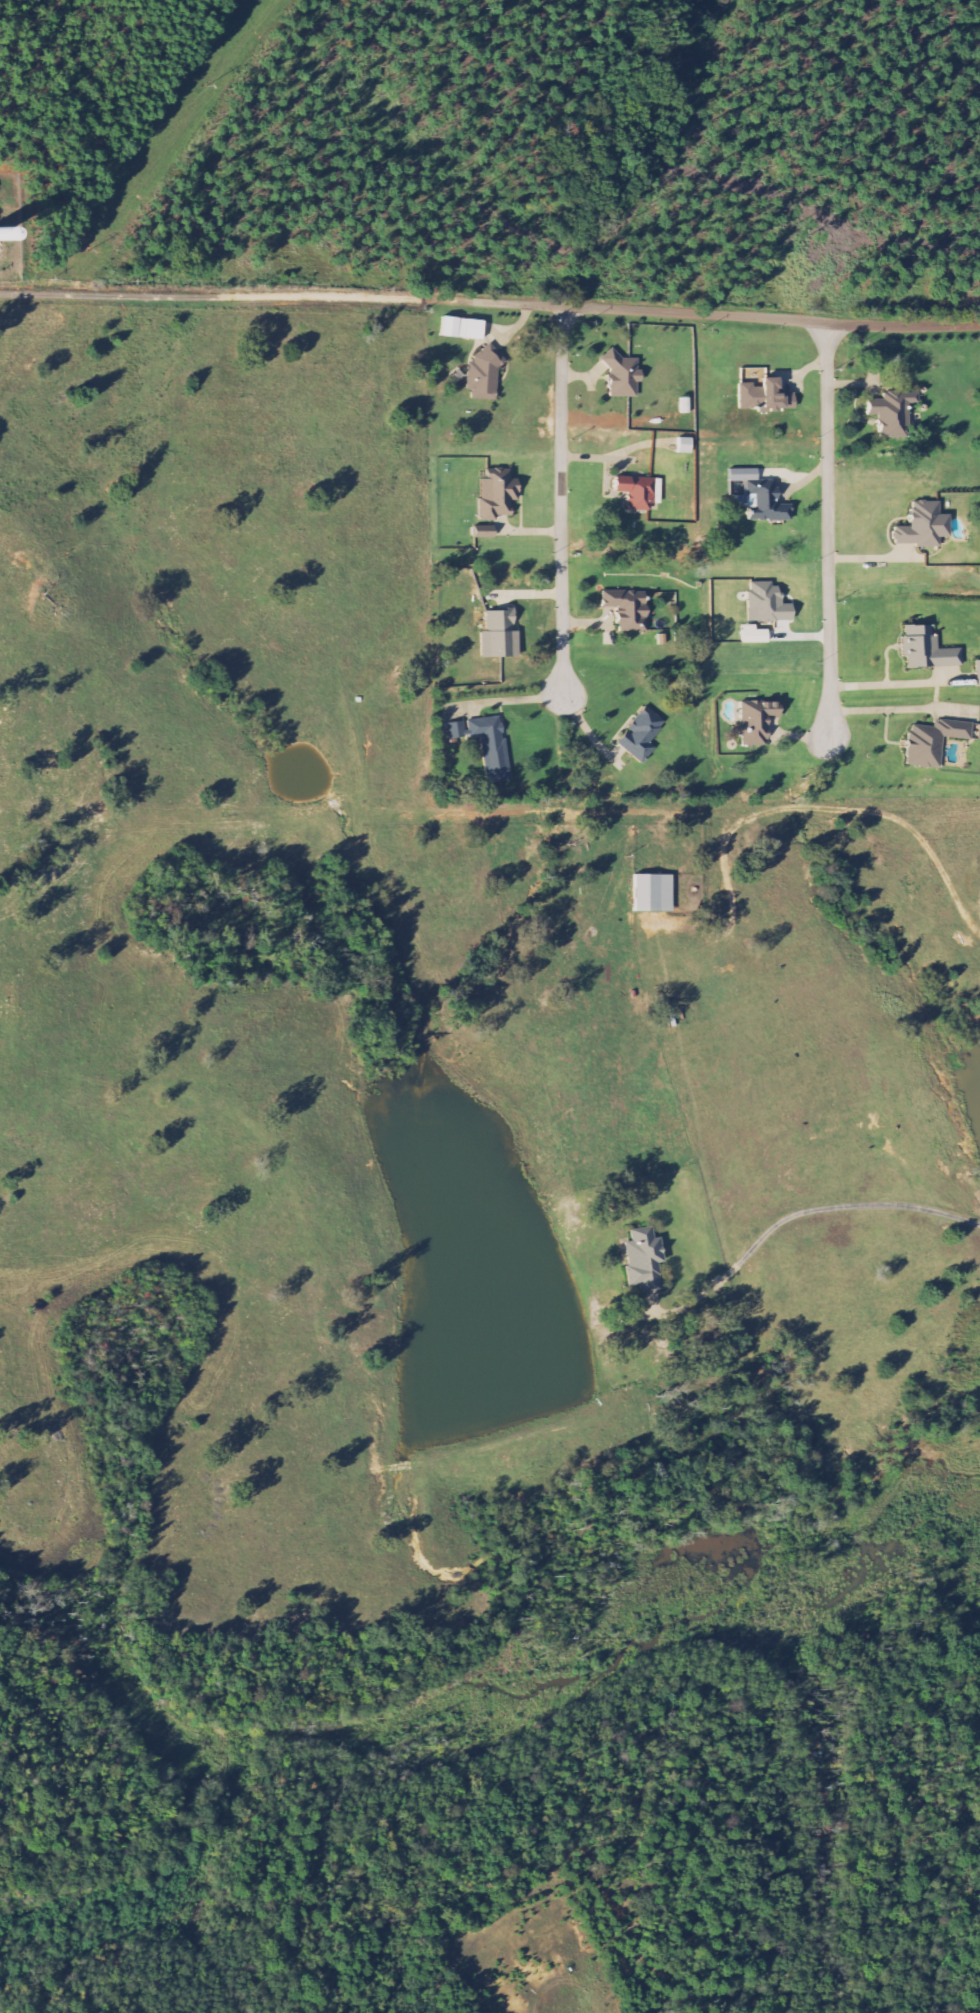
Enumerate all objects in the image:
road: (213, 296)
road: (702, 313)
building: (463, 328)
building: (484, 375)
building: (623, 375)
building: (765, 397)
building: (893, 413)
building: (684, 446)
building: (639, 493)
building: (497, 495)
road: (561, 497)
building: (758, 497)
building: (923, 526)
road: (827, 528)
building: (484, 534)
building: (767, 604)
building: (628, 609)
building: (499, 635)
building: (927, 649)
building: (977, 673)
building: (756, 722)
building: (456, 730)
building: (641, 735)
building: (933, 742)
building: (491, 747)
building: (653, 893)
road: (810, 1211)
building: (643, 1260)

